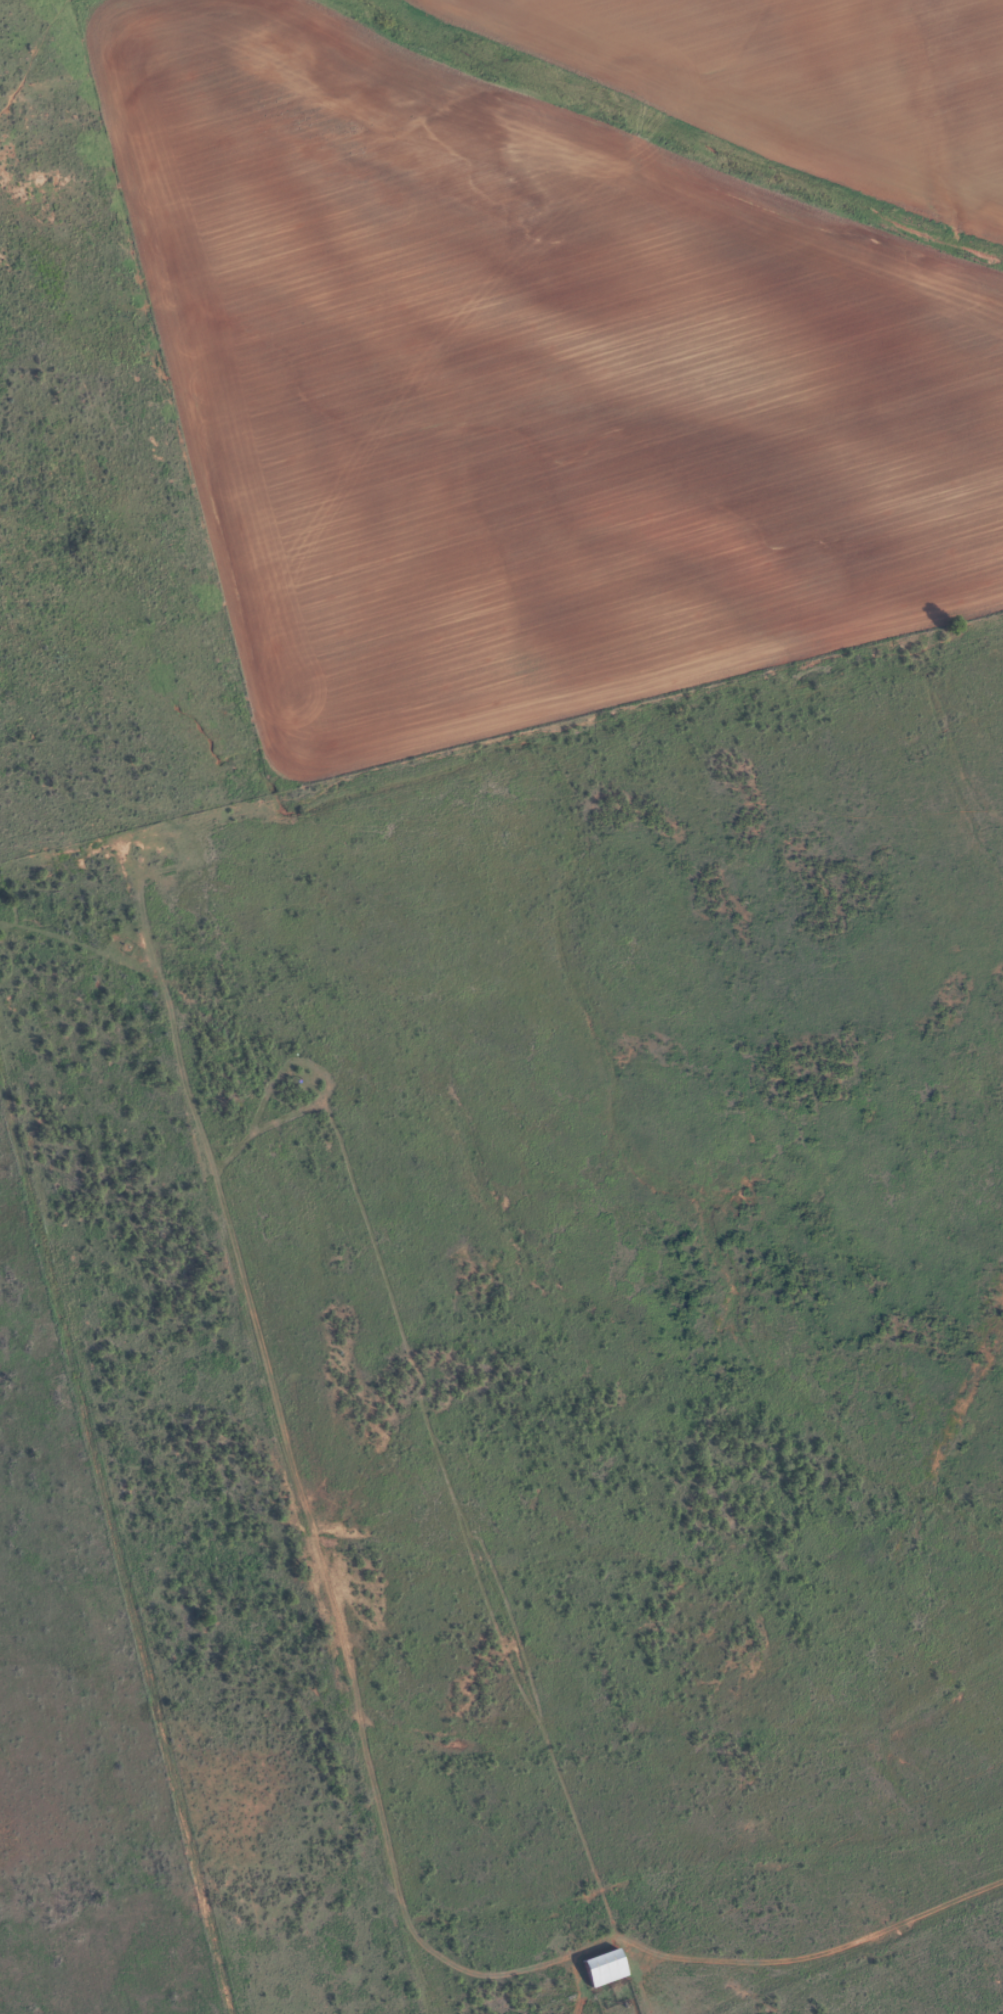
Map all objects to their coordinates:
building: (607, 1968)

